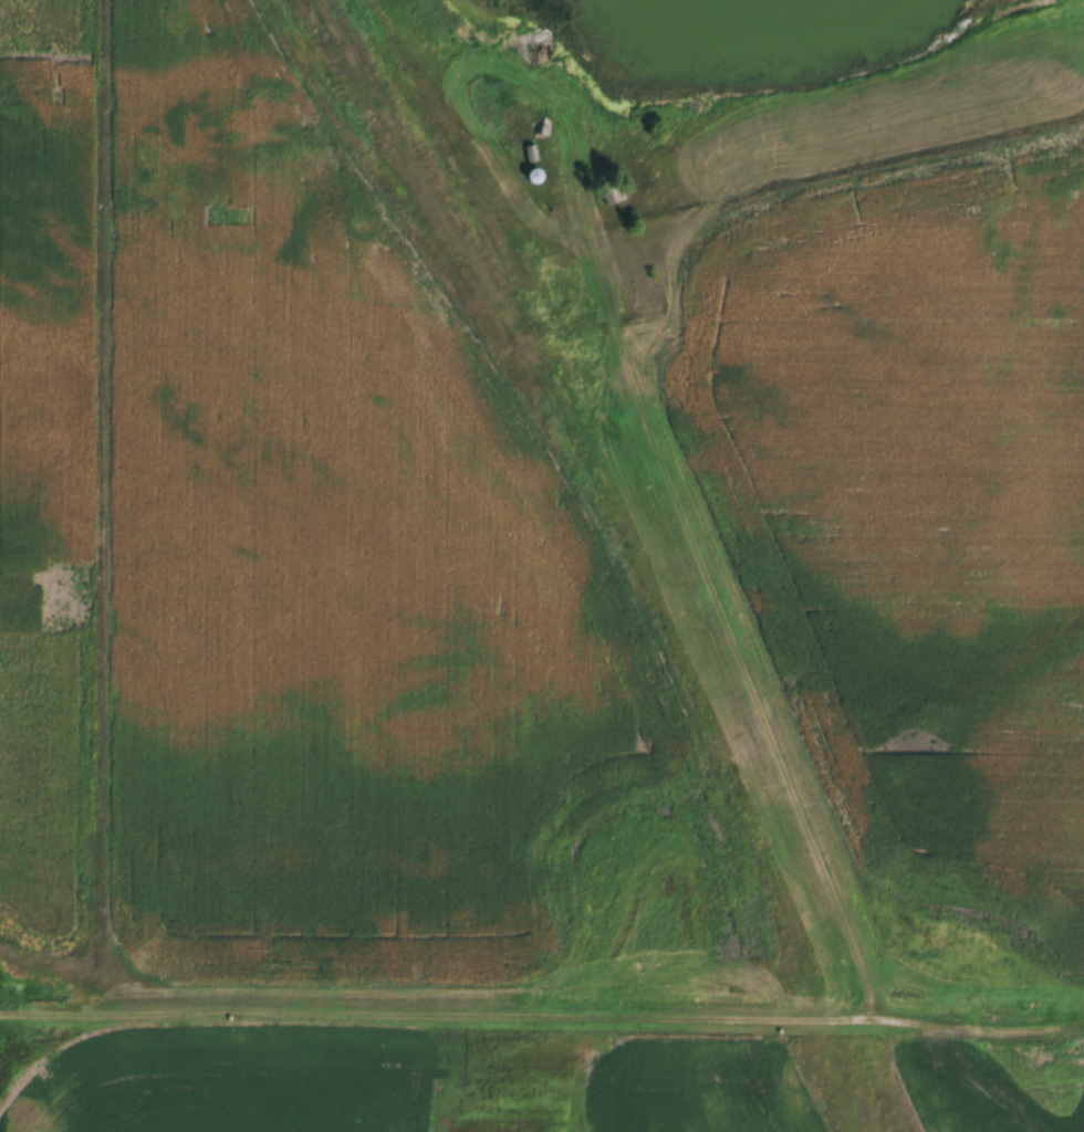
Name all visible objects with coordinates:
building: (543, 127)
building: (532, 153)
building: (533, 175)
road: (742, 621)
road: (541, 1014)

